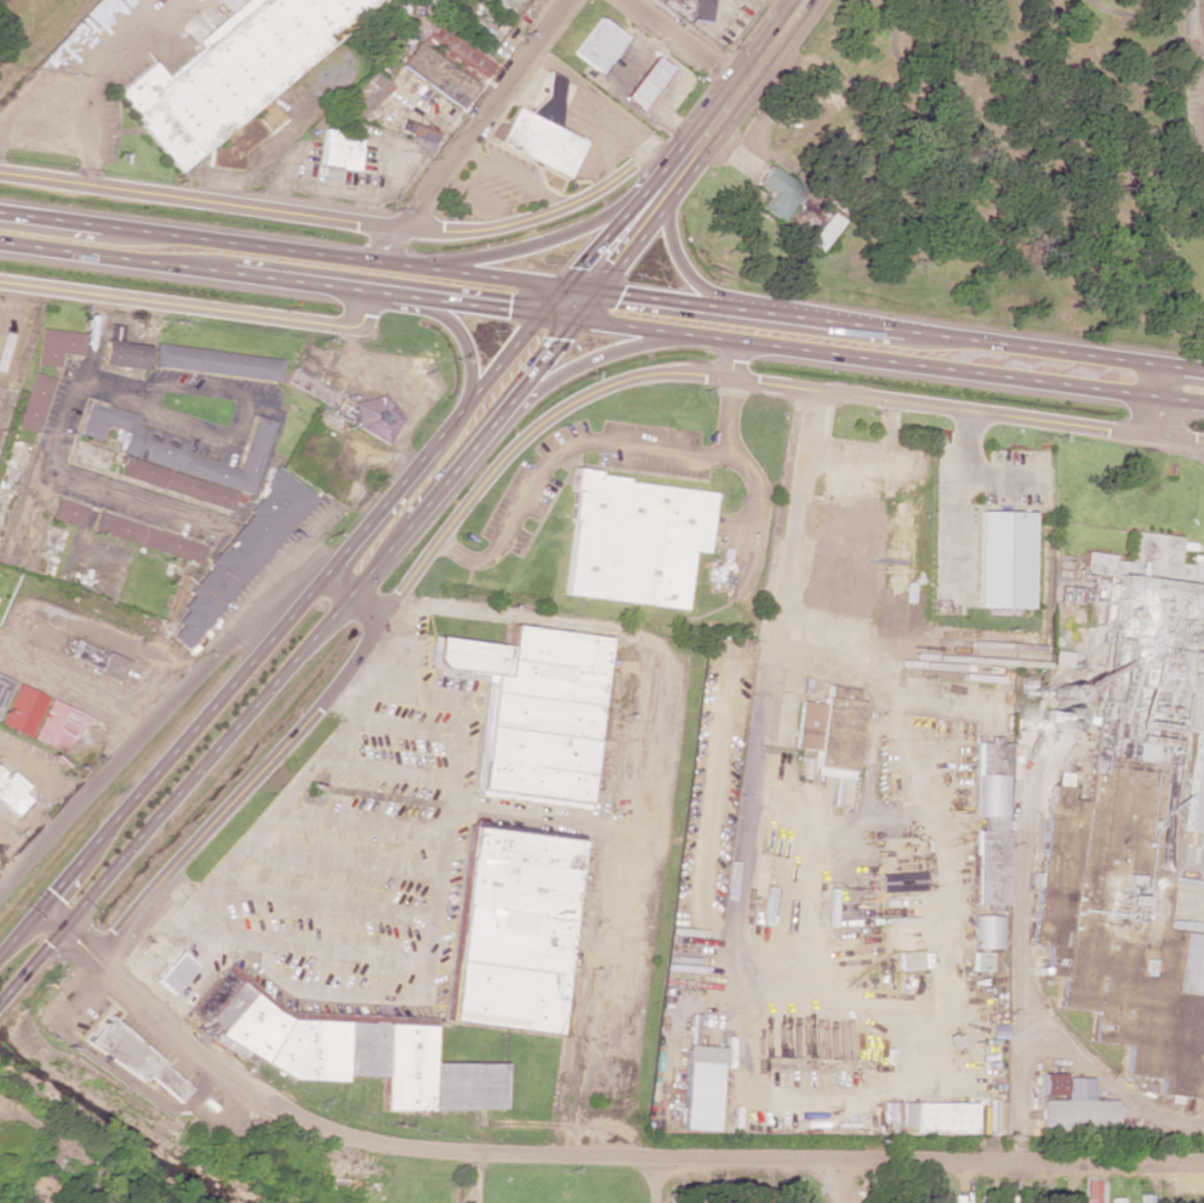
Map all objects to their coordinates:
building: (701, 10)
road: (685, 39)
building: (598, 45)
building: (453, 51)
building: (436, 74)
building: (233, 78)
road: (742, 80)
building: (645, 82)
road: (1203, 89)
building: (361, 93)
road: (473, 130)
road: (1203, 130)
building: (538, 142)
building: (338, 149)
park: (1031, 163)
building: (776, 193)
road: (200, 201)
building: (822, 232)
road: (543, 243)
traffic signals: (600, 270)
road: (687, 270)
road: (601, 295)
traffic signals: (618, 297)
road: (575, 301)
road: (194, 308)
traffic signals: (507, 309)
road: (601, 321)
building: (112, 331)
traffic signals: (546, 337)
building: (55, 346)
road: (466, 349)
building: (122, 354)
building: (215, 361)
road: (567, 372)
building: (319, 395)
building: (33, 401)
road: (1151, 401)
building: (373, 416)
building: (176, 447)
road: (559, 450)
road: (507, 460)
road: (743, 466)
building: (176, 483)
building: (65, 512)
building: (145, 537)
building: (632, 540)
building: (238, 554)
building: (1003, 559)
building: (93, 660)
road: (74, 689)
road: (176, 692)
building: (21, 709)
road: (232, 709)
building: (532, 711)
building: (601, 720)
building: (56, 725)
building: (828, 735)
road: (753, 776)
building: (10, 792)
building: (1132, 815)
building: (989, 822)
building: (901, 882)
building: (512, 930)
building: (988, 931)
building: (913, 960)
building: (981, 960)
building: (172, 973)
road: (1018, 1013)
building: (344, 1051)
building: (132, 1057)
road: (1106, 1083)
building: (697, 1087)
building: (1073, 1105)
building: (928, 1117)
river: (115, 1125)
road: (588, 1158)
road: (835, 1181)
building: (1092, 1191)
building: (959, 1198)
building: (1122, 1201)

